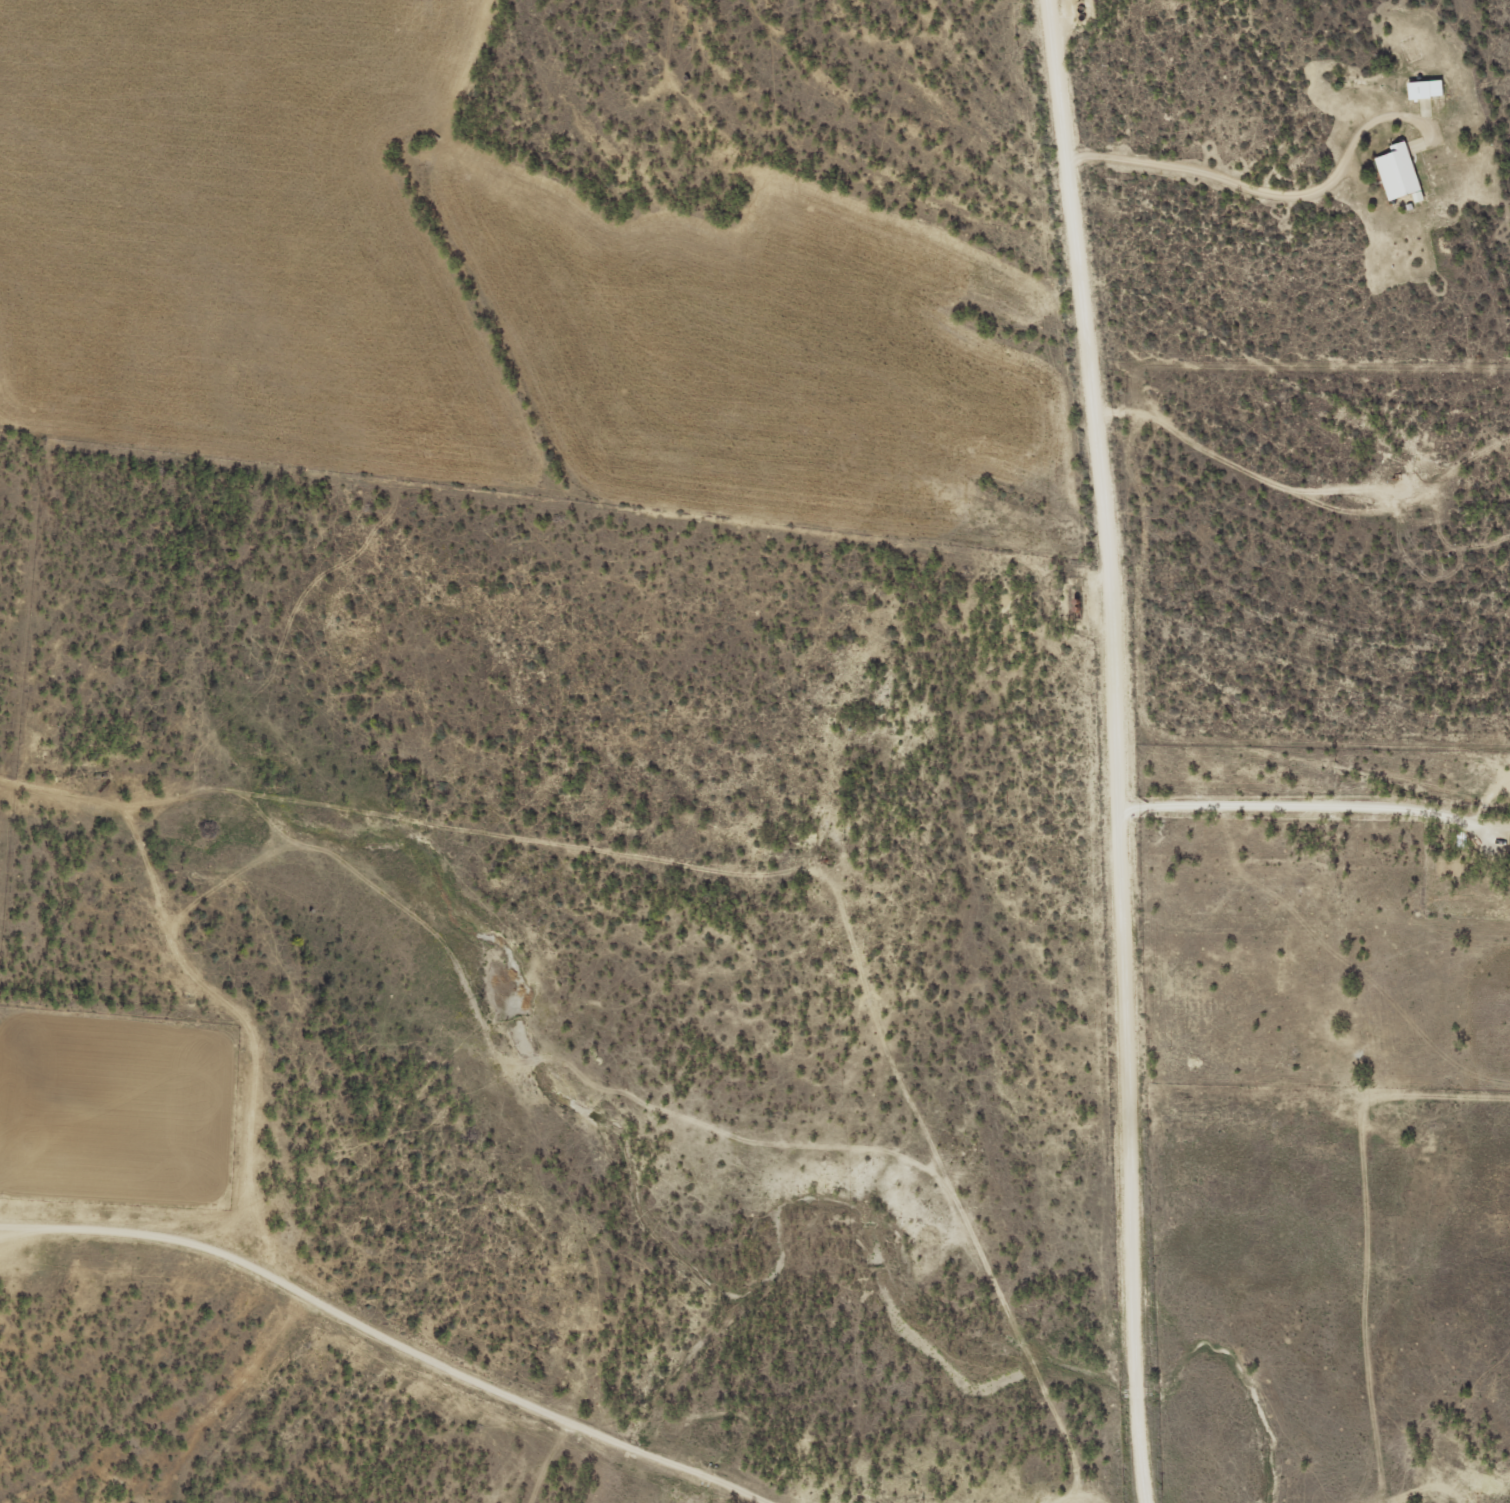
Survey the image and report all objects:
building: (1428, 89)
building: (1401, 172)
road: (1096, 749)
road: (556, 1378)

